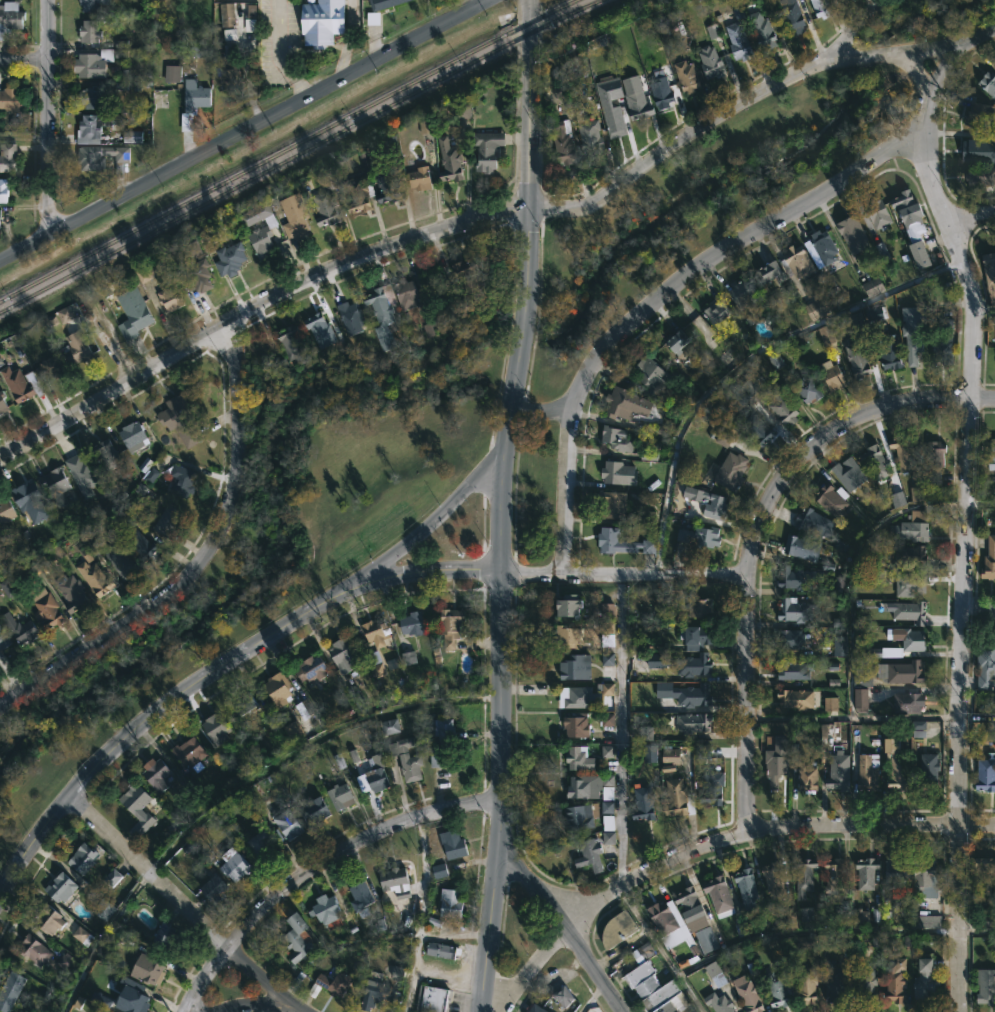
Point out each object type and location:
building: (845, 0)
building: (382, 3)
building: (89, 5)
building: (821, 8)
building: (226, 14)
building: (790, 15)
building: (10, 16)
building: (322, 22)
road: (858, 26)
building: (89, 31)
building: (764, 32)
building: (229, 34)
road: (347, 40)
building: (738, 41)
road: (894, 51)
road: (280, 52)
road: (929, 57)
building: (92, 62)
building: (711, 62)
road: (22, 64)
building: (228, 72)
building: (172, 73)
building: (687, 76)
building: (988, 83)
building: (661, 93)
building: (89, 98)
building: (9, 100)
building: (192, 102)
building: (637, 104)
building: (979, 116)
road: (45, 118)
building: (614, 119)
building: (95, 127)
road: (243, 133)
building: (588, 134)
building: (132, 136)
building: (564, 143)
railway: (287, 149)
building: (487, 149)
building: (979, 151)
railway: (298, 154)
building: (7, 158)
building: (103, 158)
building: (449, 161)
building: (981, 177)
building: (419, 179)
road: (929, 181)
building: (386, 186)
building: (3, 191)
building: (358, 196)
building: (326, 200)
building: (908, 211)
building: (878, 215)
road: (970, 218)
building: (296, 221)
building: (259, 228)
road: (527, 234)
building: (854, 235)
road: (422, 237)
building: (823, 249)
building: (919, 255)
building: (229, 259)
building: (796, 263)
building: (769, 273)
building: (143, 275)
building: (197, 276)
building: (468, 276)
building: (989, 276)
building: (872, 287)
building: (405, 294)
building: (745, 296)
road: (662, 298)
building: (170, 299)
building: (817, 309)
road: (983, 309)
building: (65, 314)
building: (133, 314)
building: (382, 314)
building: (718, 315)
building: (351, 318)
building: (855, 323)
building: (319, 329)
building: (431, 329)
building: (826, 335)
building: (914, 337)
building: (676, 338)
building: (290, 339)
building: (76, 347)
building: (890, 351)
building: (941, 354)
building: (858, 358)
building: (48, 367)
building: (650, 376)
building: (833, 376)
building: (16, 383)
building: (808, 388)
building: (623, 402)
building: (2, 405)
building: (782, 405)
road: (539, 416)
building: (179, 417)
building: (758, 429)
building: (133, 437)
building: (616, 438)
building: (723, 438)
building: (904, 452)
building: (106, 454)
building: (992, 456)
building: (876, 460)
building: (936, 460)
building: (731, 470)
building: (616, 471)
building: (849, 473)
building: (81, 475)
building: (181, 480)
building: (54, 485)
building: (917, 494)
building: (27, 496)
building: (897, 499)
building: (831, 500)
building: (719, 503)
building: (613, 504)
building: (5, 509)
building: (648, 517)
building: (166, 519)
building: (812, 522)
road: (430, 524)
building: (912, 527)
building: (700, 536)
road: (750, 539)
building: (138, 544)
building: (624, 544)
building: (802, 547)
building: (911, 556)
building: (123, 558)
road: (192, 558)
building: (989, 559)
road: (428, 570)
road: (622, 573)
building: (94, 578)
building: (794, 578)
building: (910, 584)
building: (6, 588)
building: (72, 594)
building: (568, 604)
building: (700, 607)
building: (607, 609)
building: (795, 609)
building: (47, 611)
building: (909, 611)
road: (964, 616)
road: (979, 620)
building: (412, 624)
building: (450, 626)
building: (19, 629)
building: (376, 632)
building: (695, 635)
building: (567, 637)
building: (911, 638)
building: (790, 639)
building: (3, 641)
building: (840, 646)
building: (891, 652)
building: (343, 654)
building: (408, 658)
building: (682, 663)
building: (986, 666)
building: (575, 667)
building: (310, 668)
building: (378, 670)
building: (794, 671)
building: (901, 671)
building: (277, 688)
building: (607, 689)
building: (685, 694)
building: (357, 697)
building: (575, 697)
building: (795, 698)
building: (860, 700)
building: (908, 702)
building: (244, 704)
building: (830, 704)
road: (978, 717)
building: (693, 722)
road: (164, 725)
building: (389, 726)
building: (575, 726)
building: (442, 728)
building: (216, 729)
building: (917, 729)
road: (620, 733)
building: (645, 733)
road: (499, 739)
building: (607, 751)
building: (188, 752)
building: (702, 752)
building: (649, 753)
building: (670, 755)
building: (439, 756)
building: (406, 758)
building: (578, 758)
building: (776, 762)
building: (896, 764)
building: (868, 771)
building: (928, 771)
building: (838, 772)
building: (155, 774)
building: (373, 775)
building: (986, 775)
building: (807, 777)
building: (588, 785)
building: (607, 787)
building: (712, 787)
building: (340, 796)
building: (675, 797)
building: (136, 803)
building: (643, 803)
building: (316, 809)
building: (608, 816)
building: (578, 817)
building: (287, 825)
building: (452, 844)
building: (260, 845)
building: (591, 851)
road: (711, 853)
building: (81, 858)
building: (233, 865)
road: (314, 867)
building: (439, 871)
building: (866, 873)
building: (897, 873)
building: (984, 873)
building: (833, 875)
building: (804, 877)
building: (112, 878)
building: (926, 878)
building: (773, 880)
building: (395, 882)
building: (746, 885)
building: (59, 887)
building: (213, 889)
building: (718, 894)
building: (360, 899)
building: (450, 903)
road: (190, 908)
building: (103, 909)
building: (325, 909)
building: (692, 909)
building: (806, 914)
building: (860, 917)
building: (48, 919)
building: (927, 921)
road: (560, 923)
building: (671, 926)
building: (617, 929)
road: (814, 929)
road: (976, 933)
building: (81, 936)
building: (164, 936)
road: (102, 937)
building: (297, 938)
road: (621, 949)
building: (32, 950)
building: (440, 950)
road: (664, 950)
building: (642, 954)
building: (62, 963)
building: (152, 973)
building: (715, 974)
building: (896, 981)
building: (834, 982)
building: (925, 982)
building: (330, 985)
building: (806, 985)
building: (986, 986)
building: (865, 987)
building: (9, 989)
building: (777, 989)
building: (653, 990)
building: (750, 993)
building: (377, 995)
building: (131, 996)
building: (563, 996)
building: (101, 999)
building: (430, 1000)
building: (719, 1003)
road: (250, 1004)
building: (533, 1008)

